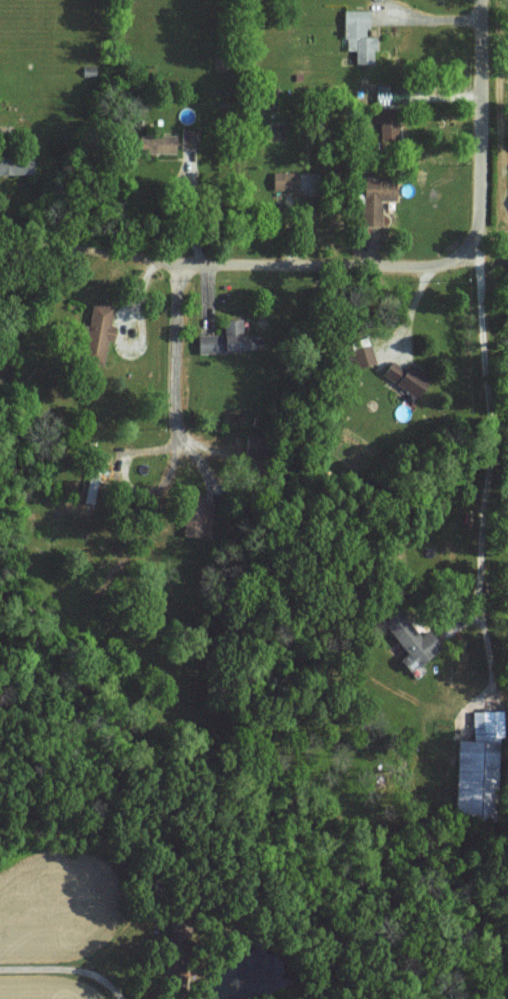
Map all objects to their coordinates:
building: (357, 33)
building: (385, 92)
road: (490, 122)
building: (387, 125)
building: (188, 137)
building: (155, 143)
building: (15, 163)
building: (292, 180)
building: (377, 187)
road: (236, 240)
building: (506, 260)
building: (95, 332)
building: (226, 338)
road: (180, 341)
building: (361, 355)
building: (403, 377)
road: (488, 420)
building: (197, 516)
building: (408, 640)
building: (485, 719)
building: (474, 772)
road: (65, 970)

